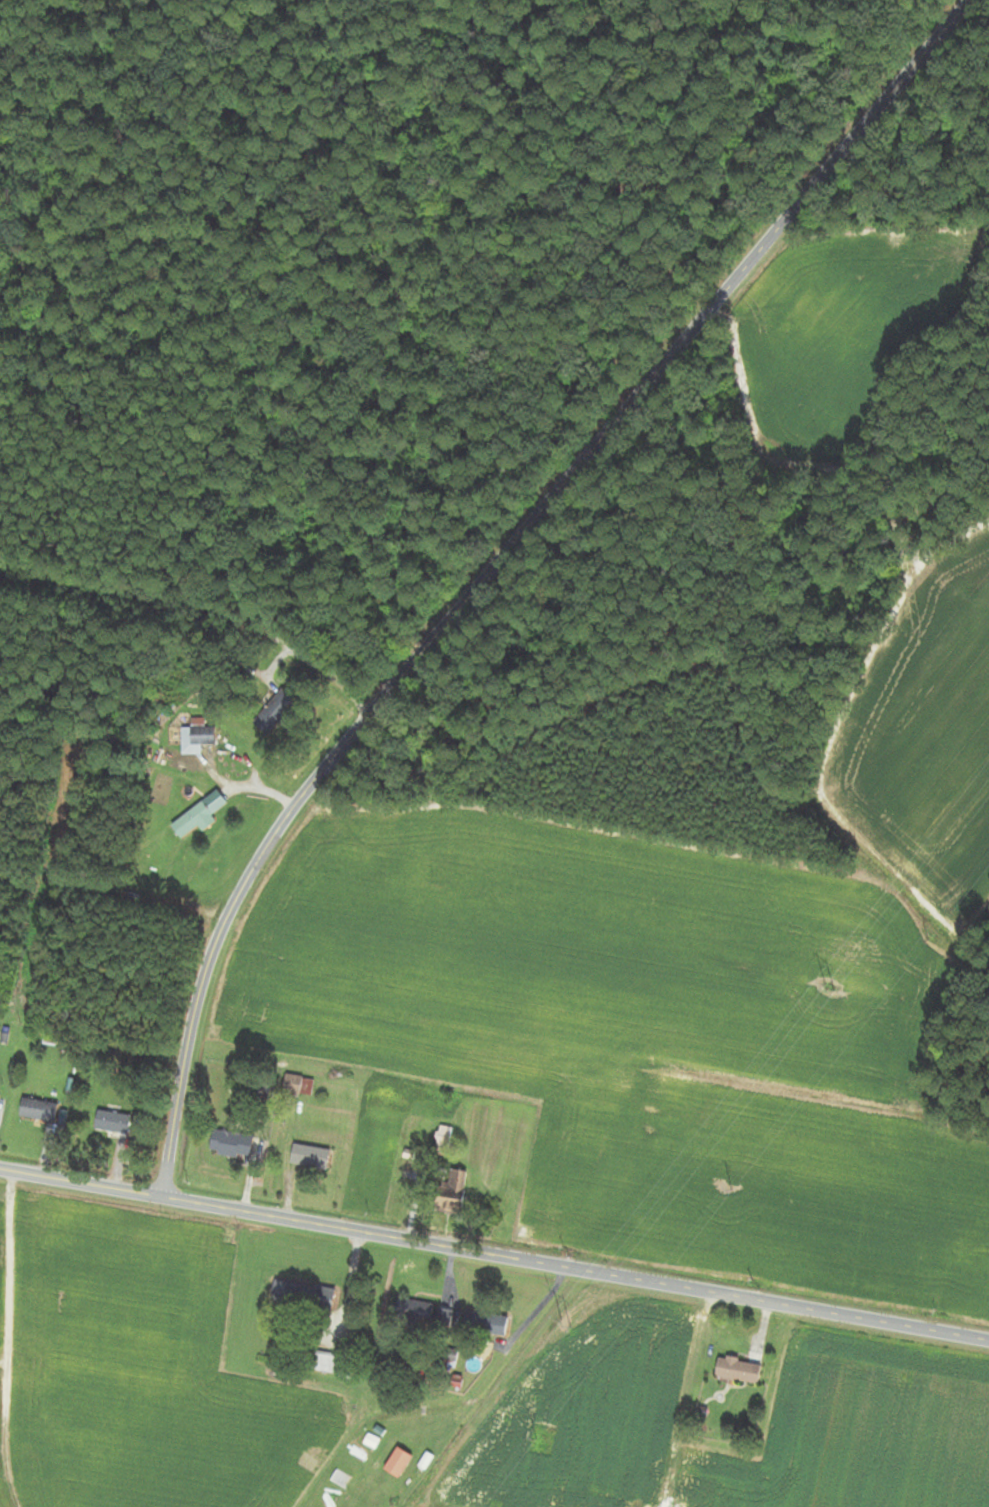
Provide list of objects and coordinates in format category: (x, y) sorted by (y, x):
road: (507, 565)
road: (208, 611)
building: (272, 713)
building: (196, 738)
building: (193, 820)
road: (119, 873)
power tower: (832, 987)
building: (294, 1085)
building: (37, 1110)
building: (111, 1122)
building: (442, 1140)
building: (231, 1143)
building: (309, 1157)
building: (451, 1195)
road: (494, 1251)
building: (302, 1294)
building: (411, 1311)
building: (443, 1316)
building: (486, 1323)
power tower: (566, 1324)
building: (325, 1361)
building: (737, 1369)
building: (370, 1441)
building: (397, 1461)
building: (339, 1478)

